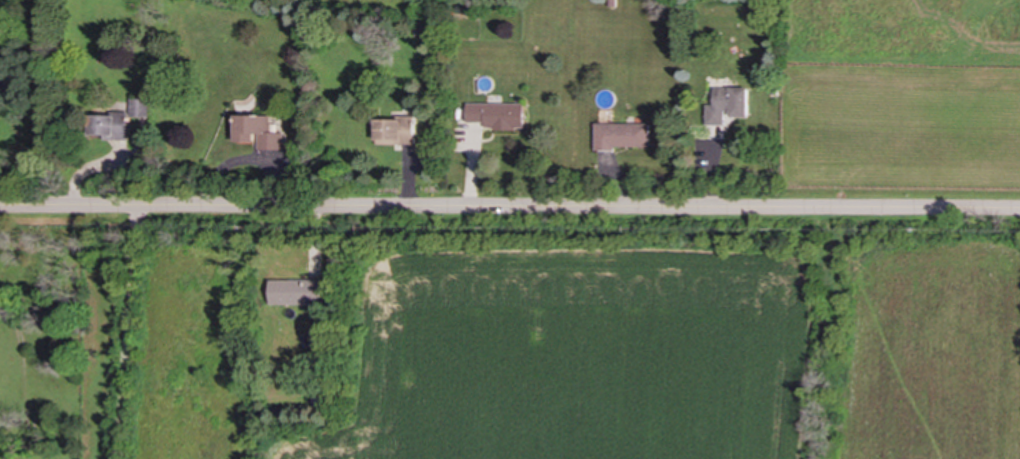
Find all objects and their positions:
building: (729, 105)
building: (138, 107)
building: (498, 115)
building: (109, 125)
building: (396, 130)
building: (259, 131)
building: (623, 135)
road: (509, 208)
building: (295, 292)
road: (127, 333)
crop: (939, 355)
crop: (586, 361)

